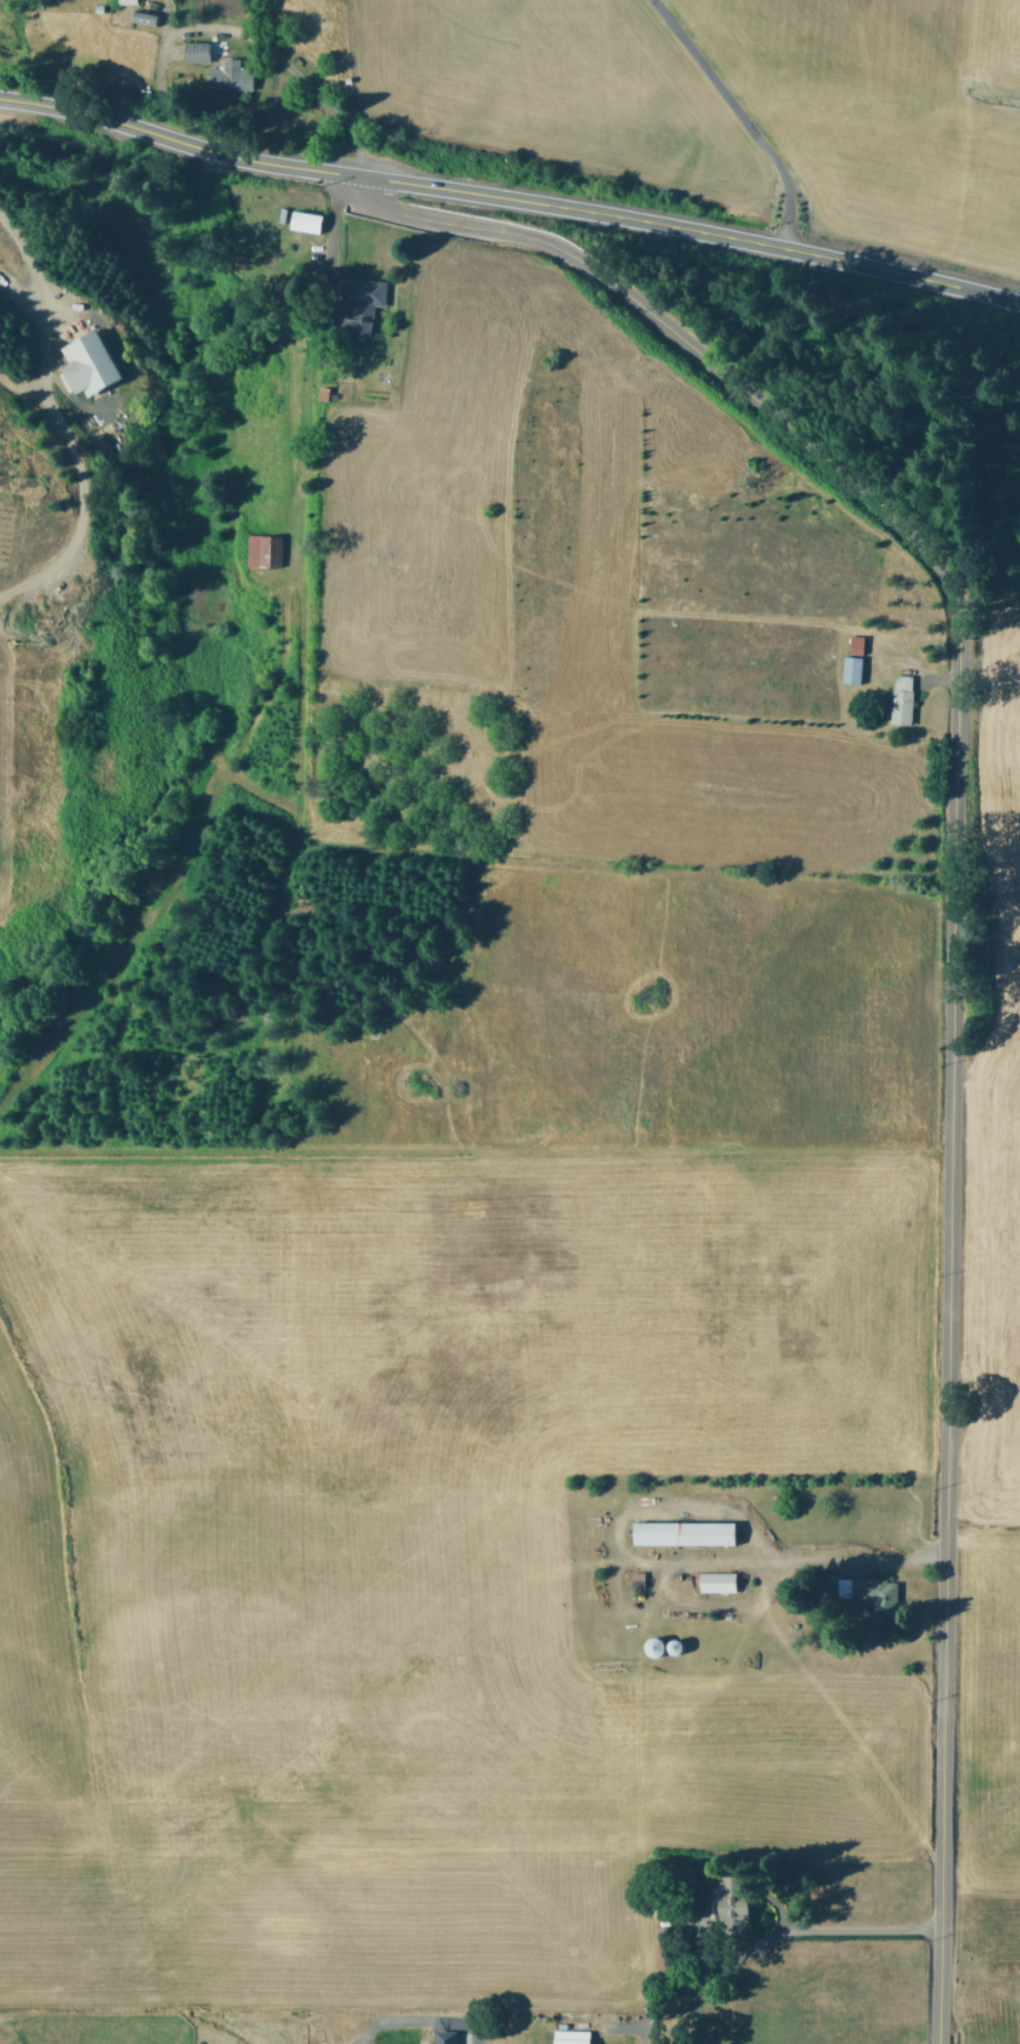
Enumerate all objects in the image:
building: (130, 1)
building: (150, 16)
road: (205, 33)
building: (201, 50)
building: (234, 75)
crop: (613, 96)
road: (734, 116)
road: (510, 198)
building: (311, 220)
road: (329, 225)
building: (365, 302)
building: (92, 364)
road: (14, 384)
road: (44, 426)
building: (263, 549)
building: (860, 644)
building: (855, 669)
building: (904, 698)
road: (950, 941)
road: (474, 1160)
crop: (540, 1499)
building: (687, 1533)
road: (804, 1555)
building: (720, 1581)
building: (880, 1594)
building: (661, 1646)
building: (737, 1900)
road: (799, 1936)
road: (417, 2016)
building: (576, 2036)
building: (449, 2037)

